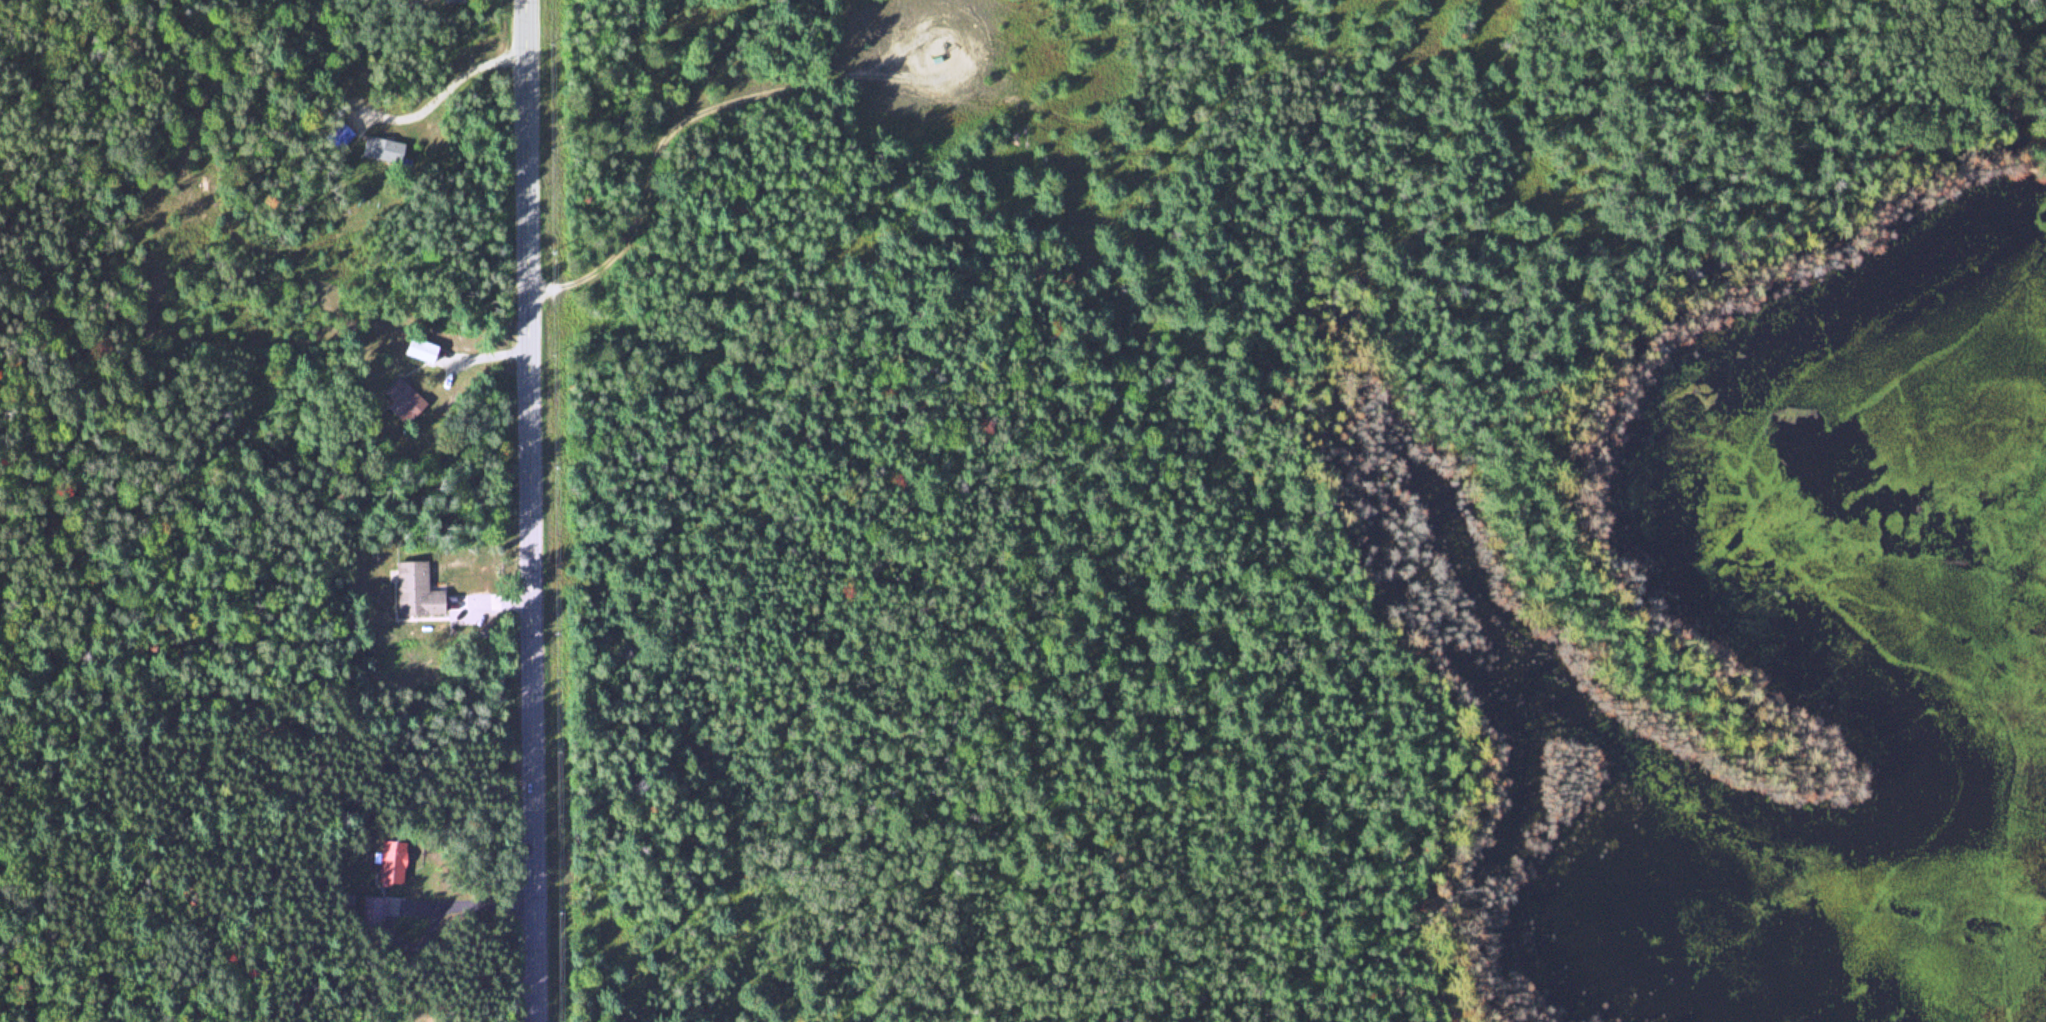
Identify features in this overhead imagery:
petroleum well: (934, 51)
road: (671, 129)
building: (341, 136)
building: (382, 149)
building: (420, 350)
building: (403, 402)
road: (530, 511)
building: (416, 590)
building: (390, 863)
building: (371, 913)

